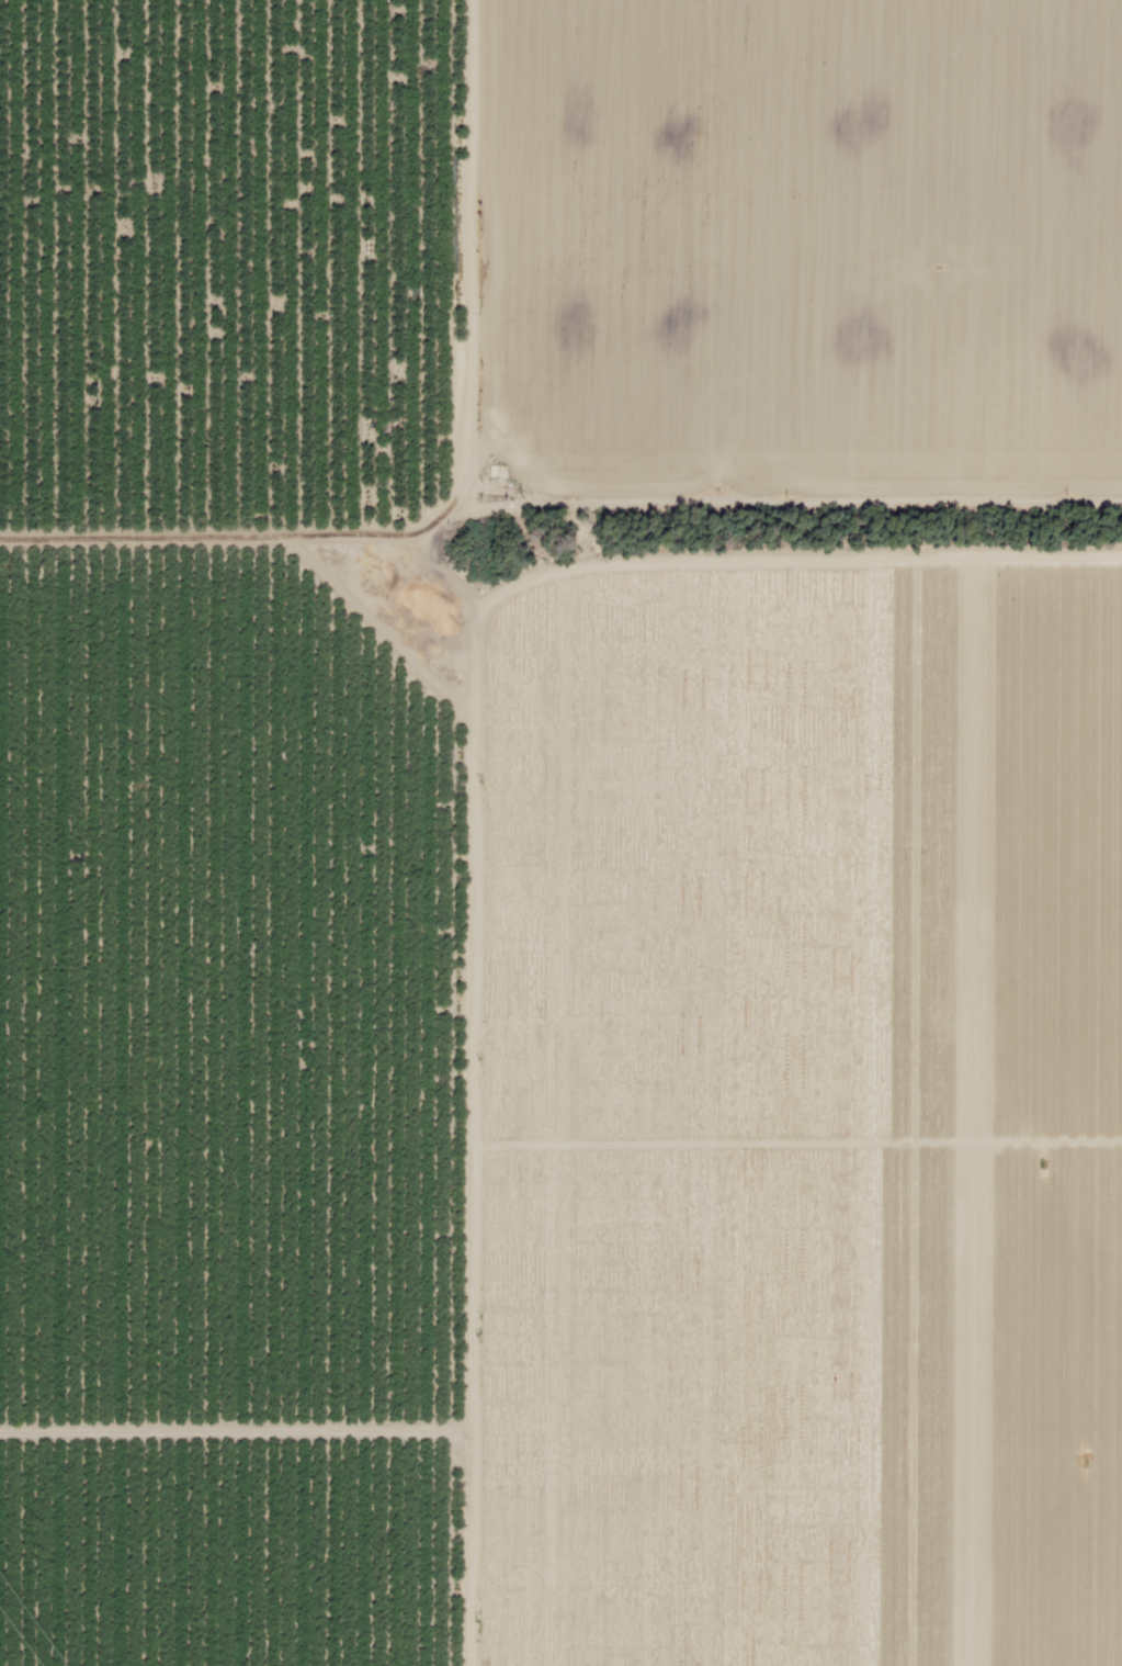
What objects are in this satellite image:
road: (560, 527)
road: (455, 832)
crop: (793, 1092)
crop: (233, 1093)

